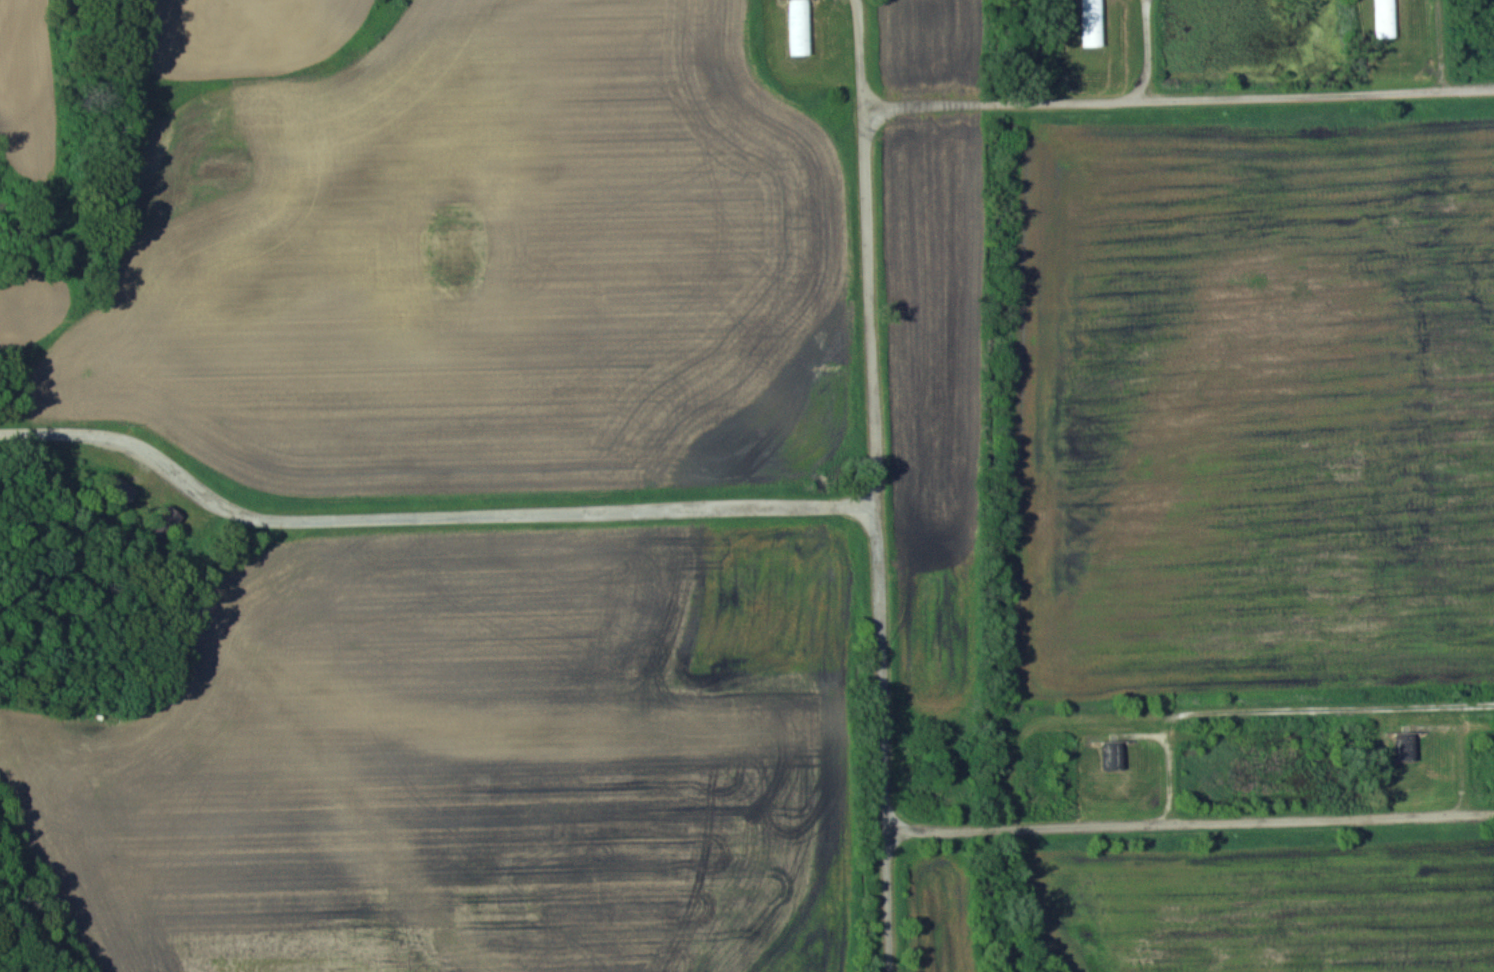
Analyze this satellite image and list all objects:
building: (1384, 18)
building: (1092, 34)
road: (1154, 48)
road: (1180, 96)
road: (869, 486)
building: (118, 493)
road: (424, 515)
building: (163, 523)
road: (1462, 753)
building: (1113, 755)
road: (1173, 764)
road: (1189, 826)

